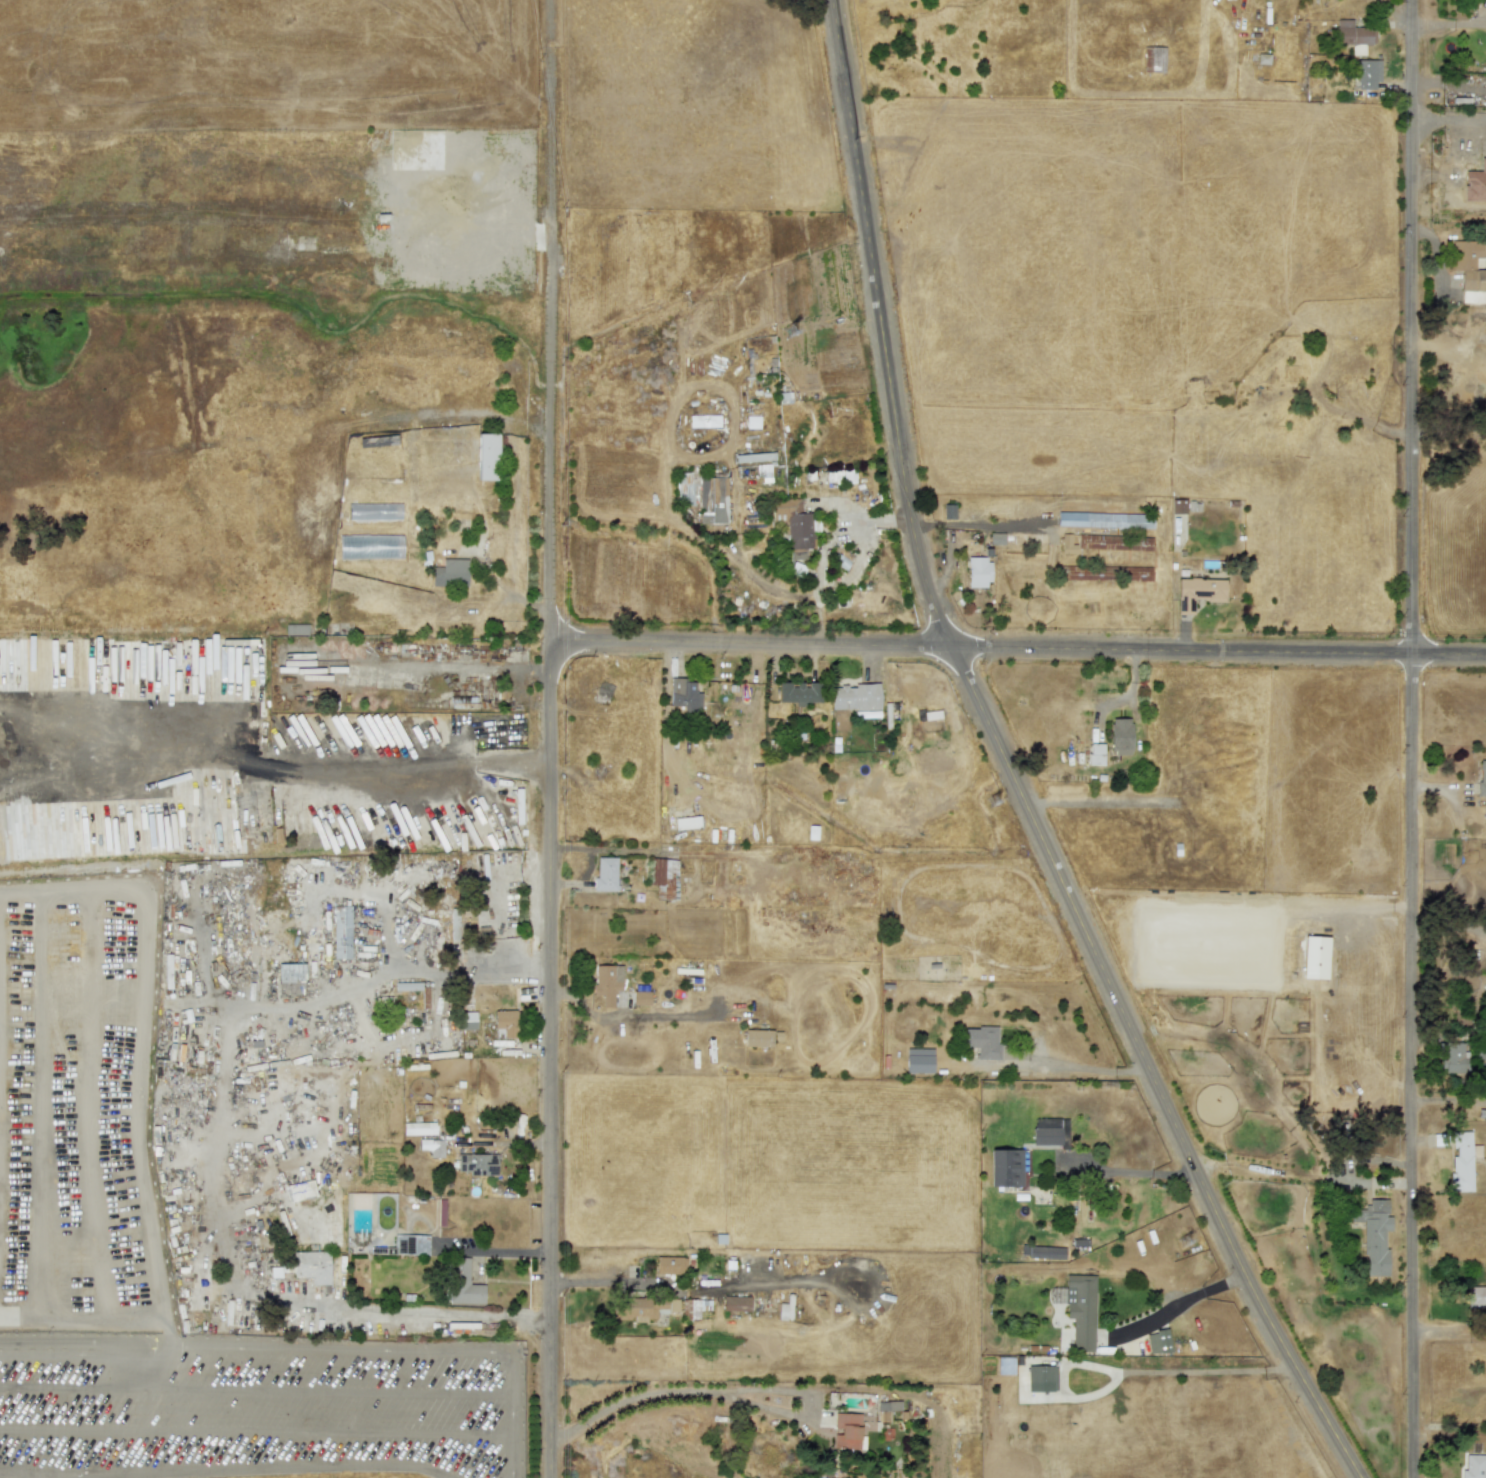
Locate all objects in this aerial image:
road: (1447, 25)
building: (1354, 36)
building: (1153, 59)
building: (1368, 74)
road: (1447, 128)
building: (1475, 183)
building: (1469, 264)
power tower: (801, 350)
building: (704, 421)
road: (1448, 424)
building: (380, 441)
building: (486, 457)
road: (668, 484)
building: (712, 500)
building: (1105, 520)
building: (793, 522)
building: (1114, 542)
building: (1066, 544)
building: (977, 572)
building: (449, 573)
building: (1104, 573)
road: (843, 578)
road: (812, 591)
building: (1198, 591)
building: (295, 629)
road: (751, 648)
road: (1219, 652)
building: (798, 692)
building: (685, 695)
building: (855, 697)
building: (1120, 736)
road: (1412, 738)
building: (1095, 754)
road: (273, 767)
road: (1008, 767)
building: (1482, 778)
power tower: (997, 802)
building: (188, 816)
building: (687, 822)
road: (548, 851)
building: (605, 875)
building: (664, 878)
building: (456, 924)
building: (341, 932)
building: (289, 975)
building: (607, 983)
building: (641, 998)
building: (467, 1020)
building: (504, 1024)
road: (144, 1037)
building: (757, 1038)
building: (982, 1042)
building: (1453, 1056)
road: (1060, 1068)
building: (419, 1128)
building: (1049, 1131)
building: (431, 1147)
building: (1461, 1161)
building: (477, 1164)
building: (1005, 1168)
road: (1129, 1172)
building: (1374, 1236)
power tower: (1186, 1243)
building: (409, 1244)
building: (1046, 1252)
building: (312, 1265)
building: (670, 1265)
building: (464, 1284)
road: (683, 1293)
building: (1476, 1296)
building: (735, 1303)
road: (1179, 1303)
building: (689, 1307)
building: (1078, 1307)
building: (638, 1308)
road: (414, 1316)
road: (82, 1319)
road: (167, 1332)
road: (1449, 1334)
building: (1157, 1342)
road: (84, 1344)
road: (340, 1348)
road: (1209, 1369)
building: (1040, 1378)
road: (256, 1389)
road: (726, 1393)
building: (887, 1407)
road: (513, 1415)
building: (846, 1430)
road: (256, 1431)
building: (1474, 1466)
road: (245, 1470)
road: (23, 1475)

